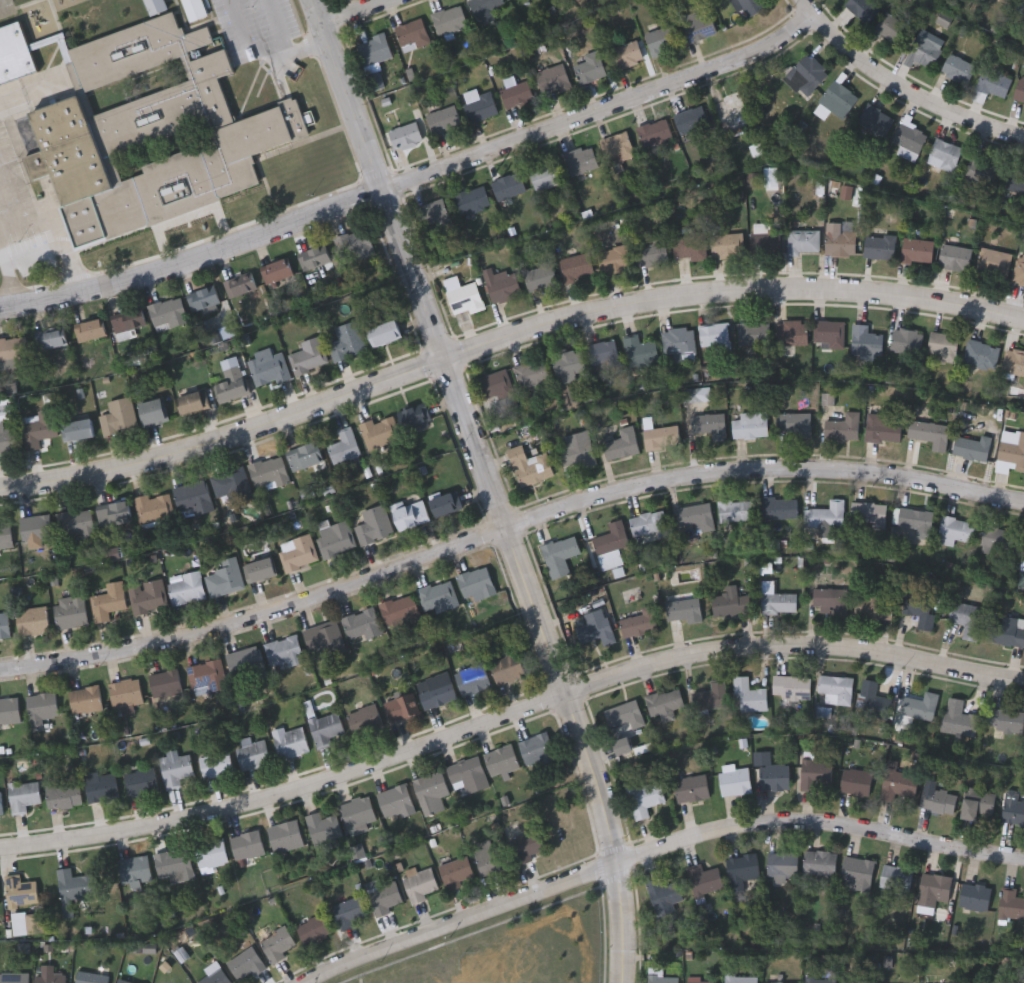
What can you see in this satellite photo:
building: (1009, 0)
building: (1019, 3)
building: (155, 5)
building: (487, 5)
building: (750, 5)
building: (193, 9)
building: (863, 9)
road: (354, 11)
building: (451, 19)
building: (700, 26)
building: (893, 28)
building: (412, 33)
building: (663, 39)
building: (375, 49)
road: (259, 50)
building: (627, 53)
building: (928, 53)
building: (591, 67)
building: (958, 68)
building: (808, 75)
building: (555, 78)
building: (991, 85)
road: (899, 88)
building: (1020, 89)
road: (30, 93)
building: (518, 94)
road: (348, 95)
building: (836, 100)
building: (481, 107)
road: (603, 110)
building: (731, 112)
building: (444, 119)
building: (691, 119)
building: (876, 119)
building: (143, 125)
building: (655, 132)
building: (406, 136)
building: (910, 140)
building: (618, 148)
building: (945, 154)
building: (582, 160)
building: (982, 169)
building: (546, 174)
building: (1014, 179)
building: (509, 186)
road: (8, 187)
building: (472, 199)
building: (433, 215)
road: (54, 225)
building: (839, 239)
building: (765, 241)
building: (802, 241)
building: (353, 244)
building: (727, 244)
building: (879, 245)
building: (688, 246)
building: (916, 249)
building: (652, 254)
road: (194, 255)
building: (313, 256)
building: (956, 257)
building: (614, 259)
building: (994, 261)
building: (577, 265)
building: (277, 269)
building: (1018, 271)
building: (540, 276)
road: (5, 277)
building: (501, 285)
building: (241, 286)
building: (464, 298)
building: (166, 311)
building: (128, 320)
building: (90, 329)
building: (792, 332)
building: (829, 332)
building: (383, 333)
building: (753, 334)
building: (714, 335)
building: (51, 338)
building: (345, 340)
building: (678, 341)
building: (907, 341)
building: (865, 342)
road: (504, 345)
building: (942, 346)
building: (13, 351)
building: (640, 351)
building: (602, 353)
building: (980, 354)
building: (307, 355)
building: (1013, 361)
building: (569, 366)
building: (266, 368)
building: (531, 373)
building: (230, 380)
building: (495, 385)
building: (193, 401)
building: (153, 411)
building: (116, 416)
building: (414, 417)
building: (793, 422)
building: (750, 424)
building: (709, 425)
building: (6, 427)
building: (842, 427)
building: (37, 428)
building: (79, 429)
building: (881, 429)
building: (378, 430)
building: (926, 432)
building: (662, 437)
building: (621, 444)
building: (342, 446)
building: (972, 447)
building: (1011, 452)
building: (575, 455)
building: (303, 457)
building: (529, 466)
building: (267, 471)
building: (230, 486)
building: (191, 498)
building: (445, 504)
building: (151, 508)
building: (779, 508)
building: (736, 511)
building: (409, 513)
building: (868, 514)
building: (828, 515)
building: (696, 517)
building: (114, 518)
building: (916, 521)
building: (74, 522)
building: (649, 524)
building: (372, 525)
building: (35, 527)
building: (956, 530)
building: (4, 535)
road: (507, 537)
building: (334, 539)
building: (611, 539)
building: (999, 542)
building: (296, 553)
building: (559, 557)
building: (259, 570)
building: (223, 578)
building: (1023, 580)
road: (528, 581)
building: (474, 582)
building: (184, 588)
building: (146, 596)
building: (436, 596)
building: (777, 600)
building: (830, 600)
building: (107, 601)
building: (731, 604)
building: (874, 606)
building: (684, 607)
building: (920, 608)
building: (398, 609)
building: (69, 611)
building: (966, 618)
building: (31, 620)
building: (360, 623)
building: (639, 623)
building: (4, 625)
building: (595, 628)
building: (1007, 631)
building: (323, 639)
building: (282, 652)
building: (244, 662)
building: (505, 668)
building: (204, 676)
building: (471, 679)
building: (164, 683)
building: (792, 687)
building: (835, 689)
building: (434, 690)
building: (124, 693)
building: (750, 695)
building: (711, 697)
building: (84, 699)
building: (872, 701)
building: (664, 703)
building: (919, 706)
building: (400, 707)
building: (39, 709)
building: (8, 710)
road: (507, 712)
building: (622, 715)
building: (362, 718)
building: (958, 719)
building: (1005, 719)
building: (324, 728)
building: (289, 741)
building: (623, 745)
building: (535, 749)
building: (250, 752)
building: (500, 760)
building: (215, 764)
building: (174, 768)
building: (817, 774)
building: (466, 776)
building: (774, 777)
building: (139, 782)
building: (735, 782)
building: (856, 782)
building: (898, 784)
building: (99, 786)
building: (692, 788)
building: (429, 792)
building: (22, 795)
building: (62, 795)
building: (644, 798)
building: (937, 801)
building: (395, 802)
building: (978, 804)
building: (0, 808)
building: (1013, 808)
building: (357, 811)
building: (322, 828)
building: (284, 836)
building: (526, 844)
building: (246, 845)
building: (210, 852)
road: (661, 852)
building: (485, 856)
building: (172, 863)
building: (820, 863)
building: (782, 866)
building: (133, 868)
building: (741, 870)
building: (857, 871)
building: (456, 872)
building: (704, 879)
building: (895, 879)
building: (419, 883)
building: (71, 888)
building: (933, 889)
building: (19, 891)
building: (664, 893)
building: (974, 897)
building: (383, 898)
building: (1010, 904)
building: (349, 912)
building: (313, 929)
building: (277, 944)
building: (244, 964)
building: (90, 977)
building: (13, 978)
building: (48, 979)
building: (661, 979)
building: (740, 979)
building: (820, 980)
building: (701, 981)
building: (858, 981)
building: (123, 982)

